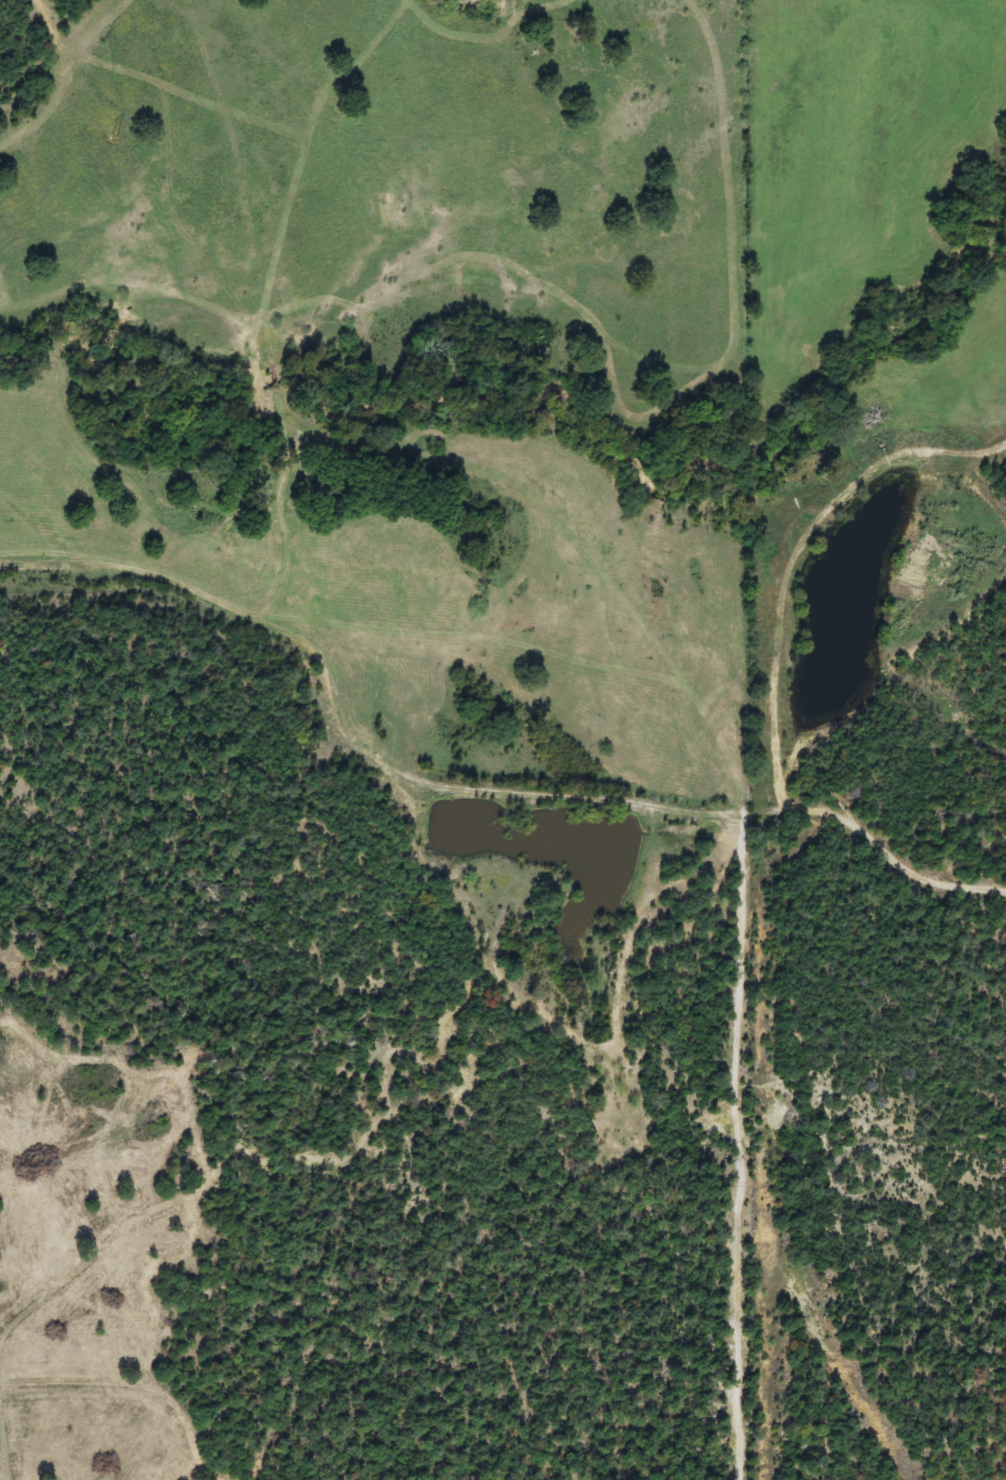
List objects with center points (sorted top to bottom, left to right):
power tower: (125, 140)
power tower: (333, 490)
road: (470, 780)
power tower: (526, 819)
power tower: (739, 1187)

